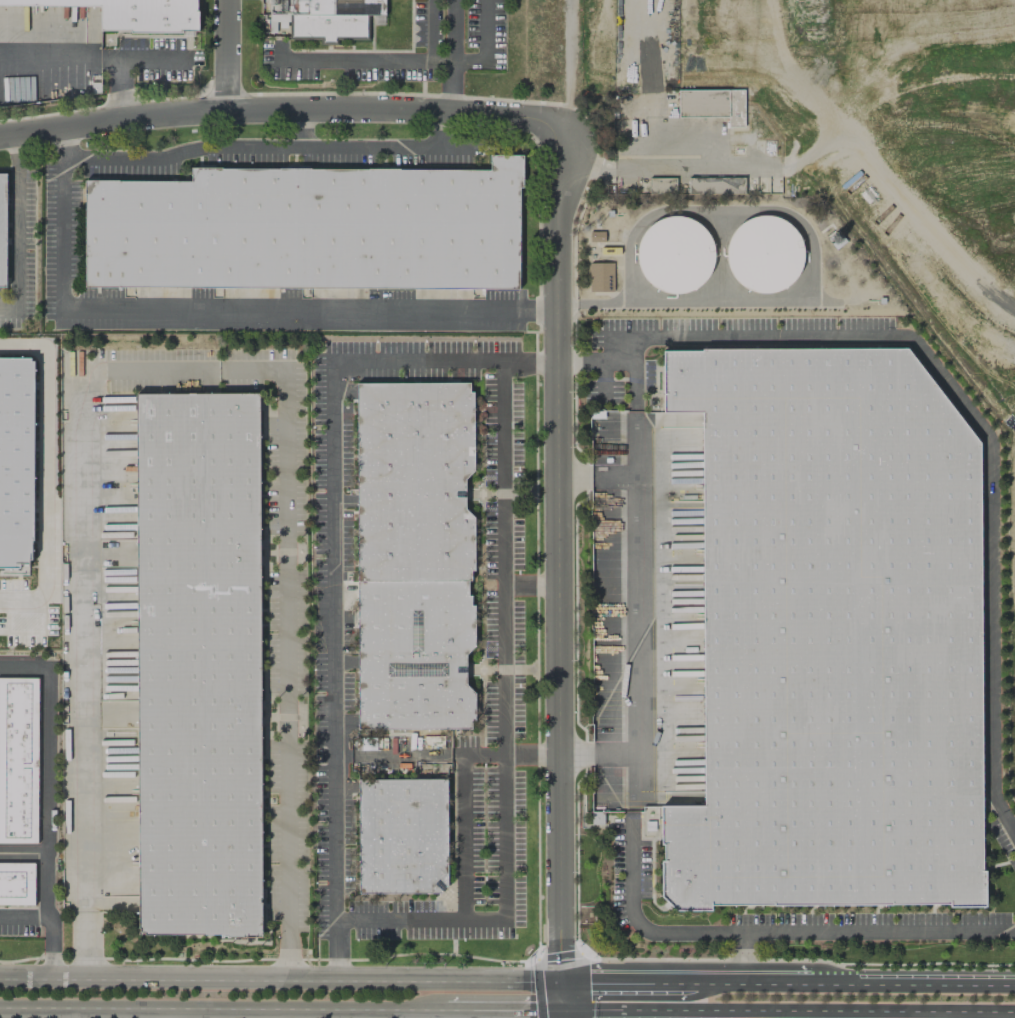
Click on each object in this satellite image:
building: (135, 13)
building: (321, 18)
road: (230, 55)
road: (91, 58)
road: (153, 58)
road: (378, 61)
road: (480, 64)
road: (567, 67)
building: (700, 102)
road: (282, 110)
road: (301, 128)
road: (438, 128)
road: (639, 133)
road: (272, 147)
road: (669, 166)
building: (706, 186)
road: (720, 211)
building: (2, 228)
road: (17, 229)
building: (309, 229)
building: (763, 253)
building: (674, 254)
building: (600, 277)
road: (694, 304)
road: (218, 311)
road: (595, 363)
road: (605, 381)
road: (635, 420)
building: (15, 461)
road: (43, 471)
road: (594, 478)
road: (554, 554)
building: (413, 555)
road: (498, 557)
road: (332, 562)
road: (286, 576)
road: (527, 583)
building: (831, 635)
road: (87, 641)
building: (198, 665)
road: (415, 753)
road: (596, 753)
building: (18, 760)
road: (45, 768)
building: (596, 818)
building: (401, 835)
road: (22, 852)
building: (16, 883)
road: (500, 891)
road: (49, 924)
road: (84, 945)
road: (742, 958)
road: (279, 980)
road: (619, 982)
road: (742, 983)
road: (910, 984)
road: (561, 997)
road: (219, 1009)
road: (443, 1011)
road: (504, 1011)
road: (168, 1013)
road: (788, 1014)
road: (562, 1015)

